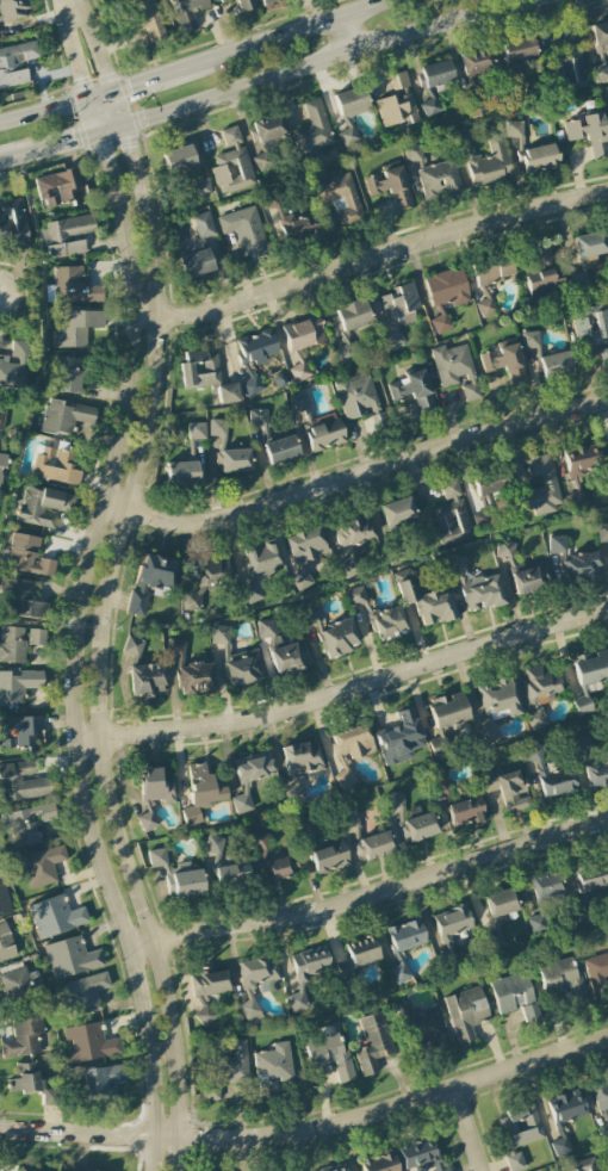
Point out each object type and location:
building: (221, 0)
building: (267, 1)
building: (247, 5)
building: (13, 10)
building: (187, 12)
building: (143, 18)
road: (298, 29)
road: (347, 31)
building: (598, 36)
road: (93, 44)
road: (73, 49)
building: (517, 49)
road: (323, 58)
building: (569, 61)
building: (17, 63)
building: (476, 63)
building: (600, 72)
building: (435, 74)
traffic signals: (81, 76)
road: (147, 78)
building: (398, 80)
traffic signals: (131, 83)
building: (350, 103)
building: (430, 106)
building: (396, 109)
road: (43, 110)
road: (92, 113)
road: (108, 126)
building: (312, 129)
building: (588, 134)
traffic signals: (74, 137)
building: (348, 137)
building: (265, 138)
road: (58, 141)
traffic signals: (129, 147)
road: (10, 155)
building: (539, 157)
building: (179, 160)
building: (489, 163)
building: (232, 165)
building: (434, 175)
building: (390, 185)
building: (201, 186)
building: (61, 187)
building: (339, 197)
building: (291, 221)
building: (12, 227)
building: (244, 231)
building: (66, 236)
building: (197, 248)
building: (587, 256)
road: (370, 259)
building: (492, 269)
building: (542, 283)
building: (74, 286)
building: (445, 295)
building: (399, 304)
building: (486, 308)
building: (352, 315)
building: (75, 328)
building: (593, 328)
building: (303, 334)
building: (393, 340)
building: (258, 347)
building: (546, 358)
building: (505, 361)
building: (14, 367)
building: (199, 368)
building: (455, 368)
building: (299, 372)
building: (66, 374)
building: (252, 386)
building: (412, 391)
building: (227, 394)
building: (356, 397)
building: (411, 411)
building: (66, 416)
building: (379, 420)
building: (1, 421)
building: (318, 428)
building: (197, 430)
building: (280, 450)
building: (229, 451)
building: (2, 461)
building: (56, 463)
building: (579, 470)
building: (181, 472)
road: (353, 477)
building: (490, 483)
building: (540, 487)
building: (43, 506)
building: (397, 512)
building: (449, 515)
building: (350, 532)
building: (602, 533)
building: (557, 544)
building: (305, 545)
building: (27, 556)
building: (262, 559)
building: (581, 566)
building: (523, 571)
building: (300, 580)
building: (205, 581)
building: (150, 582)
building: (356, 594)
building: (23, 599)
building: (423, 600)
building: (387, 622)
road: (103, 630)
building: (37, 637)
building: (337, 638)
building: (12, 644)
building: (132, 646)
road: (72, 650)
building: (283, 650)
building: (234, 662)
building: (188, 671)
building: (589, 677)
building: (147, 680)
building: (18, 684)
building: (541, 684)
road: (345, 693)
building: (498, 699)
building: (447, 711)
building: (536, 720)
building: (20, 731)
building: (491, 731)
building: (399, 738)
building: (352, 742)
building: (582, 742)
building: (439, 745)
building: (302, 758)
building: (343, 772)
building: (550, 774)
building: (596, 774)
building: (250, 776)
building: (23, 781)
building: (440, 786)
building: (154, 787)
building: (508, 789)
building: (200, 793)
building: (395, 801)
building: (466, 811)
building: (352, 820)
building: (148, 822)
building: (27, 824)
building: (417, 828)
building: (260, 843)
building: (374, 845)
building: (329, 857)
building: (227, 863)
building: (42, 866)
building: (281, 867)
building: (178, 876)
building: (593, 878)
building: (546, 888)
road: (371, 897)
building: (4, 899)
building: (501, 903)
building: (55, 916)
building: (452, 923)
building: (538, 925)
building: (405, 936)
building: (607, 940)
building: (5, 943)
building: (362, 952)
building: (70, 958)
building: (596, 972)
building: (306, 973)
building: (560, 979)
building: (210, 983)
building: (254, 983)
building: (19, 984)
building: (86, 993)
building: (514, 996)
building: (200, 1011)
building: (466, 1012)
building: (420, 1024)
building: (24, 1037)
building: (91, 1042)
building: (373, 1042)
building: (329, 1057)
building: (272, 1068)
building: (225, 1070)
building: (31, 1083)
building: (101, 1083)
building: (601, 1098)
building: (566, 1107)
building: (520, 1126)
road: (310, 1132)
road: (469, 1132)
building: (560, 1146)
building: (422, 1155)
building: (514, 1161)
building: (380, 1163)
building: (583, 1165)
building: (333, 1167)
building: (26, 1169)

